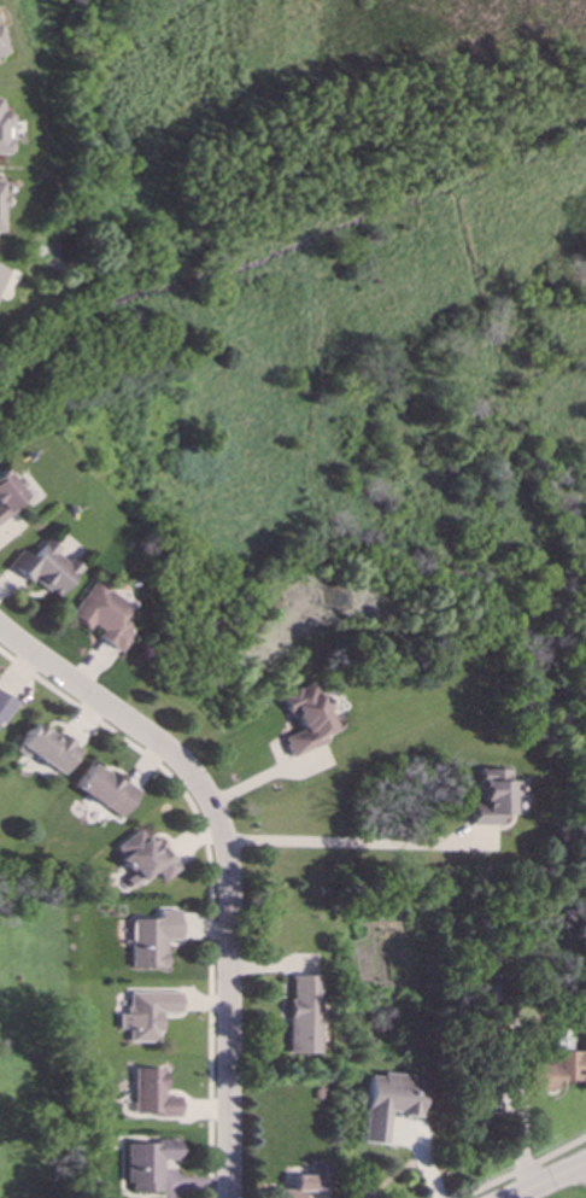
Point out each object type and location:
building: (0, 52)
building: (4, 133)
building: (0, 210)
building: (1, 273)
building: (7, 495)
building: (43, 568)
building: (102, 615)
road: (104, 703)
building: (4, 705)
building: (305, 720)
building: (46, 748)
building: (105, 790)
building: (492, 797)
road: (348, 842)
building: (143, 855)
road: (209, 876)
building: (152, 939)
road: (225, 989)
building: (146, 1015)
building: (303, 1015)
building: (557, 1070)
building: (151, 1094)
building: (386, 1104)
building: (146, 1164)
road: (521, 1167)
road: (546, 1180)
building: (292, 1188)
building: (361, 1188)

